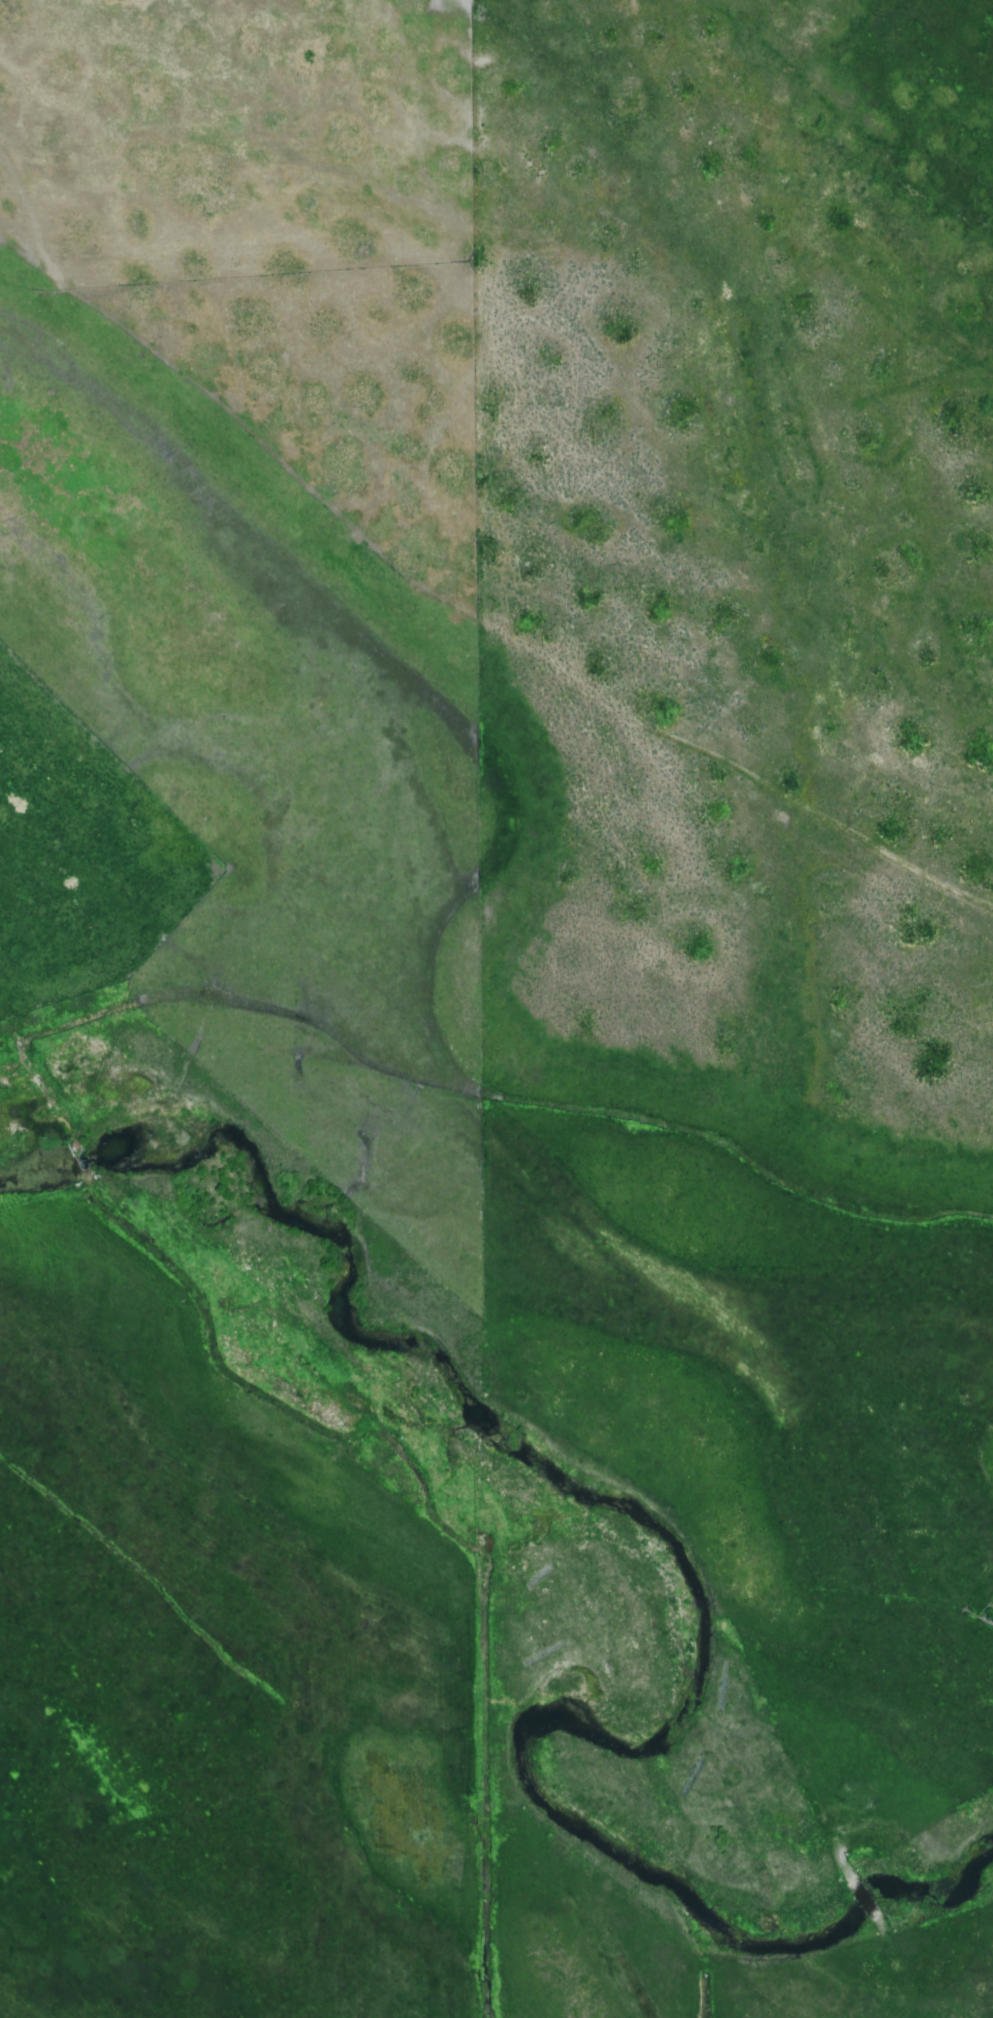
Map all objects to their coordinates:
river: (688, 1563)

